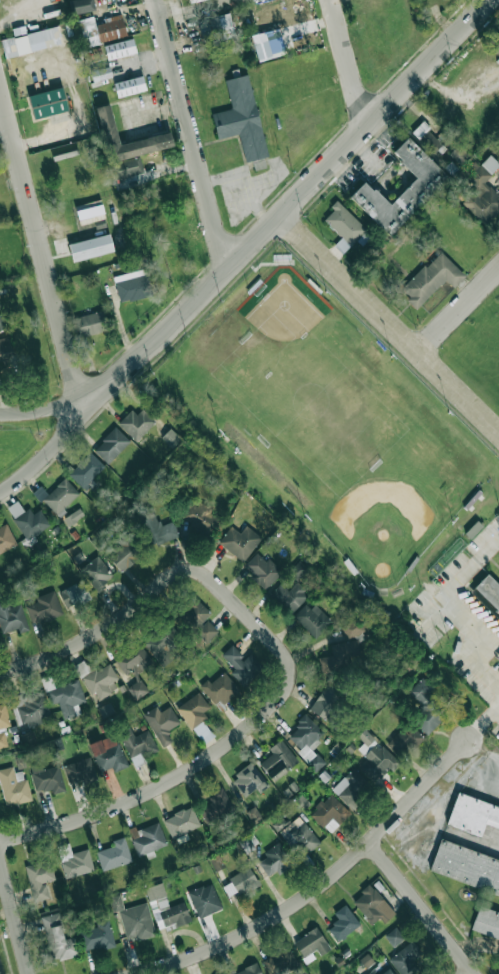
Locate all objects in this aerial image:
building: (192, 1)
building: (80, 6)
building: (215, 28)
building: (99, 30)
building: (31, 41)
building: (261, 45)
building: (119, 48)
road: (348, 60)
building: (101, 73)
building: (129, 86)
building: (47, 103)
building: (241, 118)
road: (191, 134)
building: (427, 137)
building: (126, 146)
building: (419, 189)
building: (482, 191)
road: (295, 201)
building: (89, 209)
building: (343, 226)
building: (90, 247)
road: (42, 251)
building: (431, 278)
building: (132, 285)
road: (459, 311)
building: (90, 323)
road: (390, 323)
building: (1, 324)
building: (5, 349)
building: (380, 359)
park: (313, 393)
road: (50, 414)
building: (137, 423)
building: (170, 437)
building: (111, 445)
road: (53, 452)
building: (268, 469)
building: (86, 470)
building: (57, 496)
building: (73, 516)
building: (201, 518)
building: (27, 520)
park: (387, 523)
building: (156, 528)
building: (6, 538)
building: (239, 541)
building: (124, 554)
building: (262, 569)
building: (297, 570)
building: (96, 572)
building: (74, 594)
building: (491, 595)
building: (289, 597)
road: (446, 598)
building: (43, 607)
road: (434, 615)
building: (12, 617)
road: (115, 617)
building: (198, 619)
building: (311, 619)
building: (352, 628)
building: (162, 643)
building: (339, 656)
building: (133, 659)
building: (241, 665)
road: (478, 665)
building: (97, 679)
building: (220, 688)
building: (137, 689)
building: (66, 697)
building: (327, 701)
building: (426, 706)
road: (495, 707)
building: (29, 708)
building: (193, 709)
building: (161, 723)
building: (3, 724)
building: (404, 740)
building: (307, 741)
building: (137, 745)
road: (483, 749)
building: (108, 753)
road: (212, 753)
building: (278, 760)
building: (377, 763)
building: (80, 770)
building: (47, 779)
building: (249, 780)
building: (13, 786)
building: (351, 787)
building: (216, 806)
building: (329, 813)
building: (473, 815)
building: (181, 822)
building: (300, 838)
building: (147, 839)
building: (114, 854)
building: (74, 860)
building: (275, 860)
building: (466, 867)
building: (38, 878)
building: (240, 882)
road: (320, 885)
building: (204, 900)
building: (373, 904)
road: (423, 907)
building: (165, 908)
road: (15, 913)
building: (134, 918)
building: (486, 921)
building: (343, 922)
building: (97, 935)
building: (393, 936)
building: (58, 938)
building: (311, 945)
building: (406, 958)
building: (279, 961)
building: (1, 968)
building: (380, 969)
building: (248, 970)
road: (470, 972)

